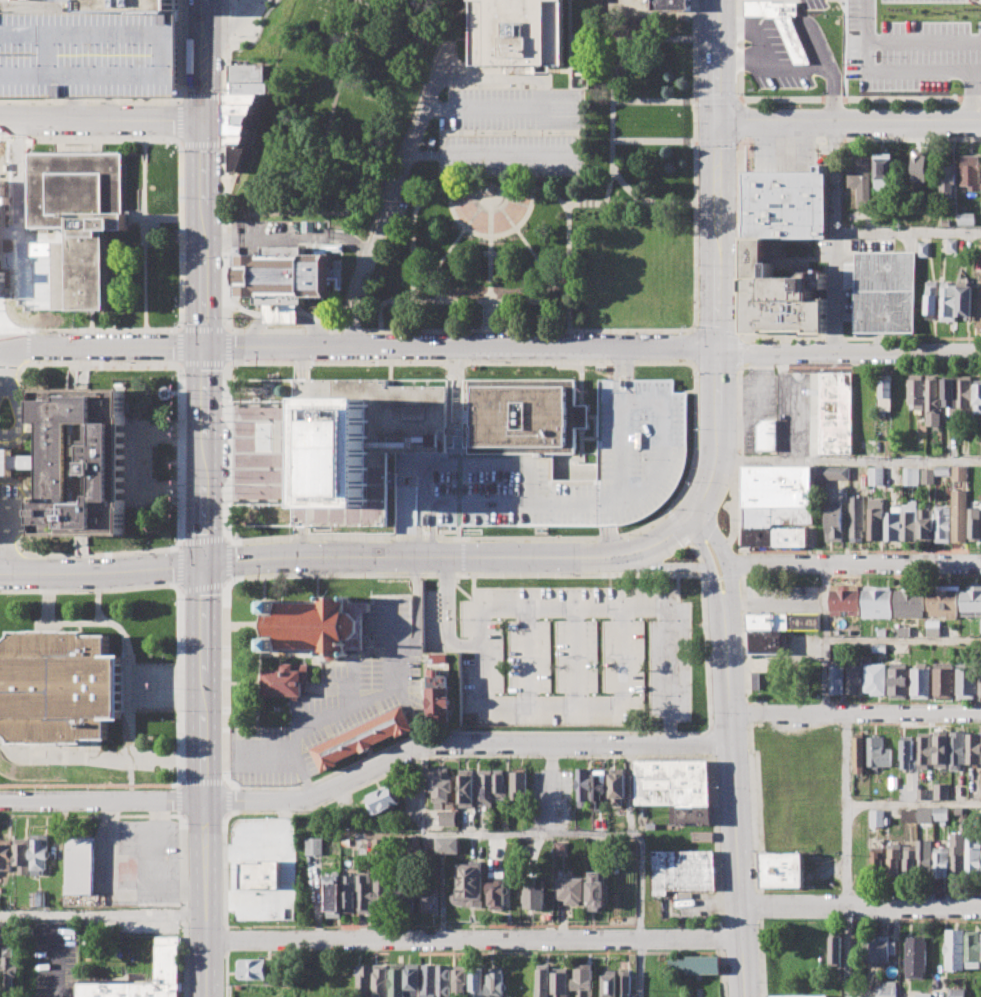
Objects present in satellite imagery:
building: (18, 1)
road: (229, 4)
road: (230, 4)
parking lot: (806, 4)
building: (115, 5)
building: (671, 6)
road: (204, 13)
road: (855, 16)
road: (231, 23)
road: (228, 25)
building: (780, 25)
building: (516, 33)
road: (609, 39)
road: (855, 43)
parking lot: (910, 43)
road: (570, 44)
road: (226, 45)
road: (739, 49)
road: (179, 51)
parking lot: (88, 54)
parking lot: (765, 57)
road: (717, 60)
road: (973, 68)
road: (694, 70)
road: (559, 71)
building: (247, 72)
building: (248, 87)
road: (966, 93)
building: (246, 97)
road: (611, 98)
road: (739, 98)
road: (860, 99)
road: (716, 100)
road: (654, 102)
park: (333, 109)
road: (481, 109)
building: (242, 117)
road: (101, 118)
road: (738, 119)
road: (849, 119)
traffic signals: (718, 122)
parking lot: (512, 132)
road: (858, 138)
road: (72, 139)
road: (154, 139)
building: (238, 139)
road: (179, 141)
road: (718, 141)
road: (653, 142)
road: (695, 142)
road: (221, 143)
building: (235, 156)
road: (551, 157)
road: (223, 160)
road: (404, 163)
building: (921, 167)
building: (884, 171)
building: (970, 171)
road: (533, 173)
road: (448, 174)
road: (834, 176)
building: (949, 179)
building: (860, 180)
road: (311, 182)
road: (204, 186)
road: (609, 187)
road: (491, 190)
building: (787, 204)
road: (629, 205)
park: (562, 206)
road: (375, 211)
building: (81, 215)
road: (162, 218)
building: (966, 219)
road: (848, 232)
building: (2, 234)
road: (718, 234)
road: (522, 237)
road: (457, 238)
building: (952, 245)
building: (923, 249)
road: (490, 261)
building: (283, 275)
road: (553, 284)
road: (432, 290)
building: (884, 291)
building: (778, 296)
building: (931, 299)
building: (965, 299)
building: (948, 300)
road: (474, 302)
road: (283, 318)
road: (178, 327)
road: (226, 328)
road: (693, 328)
road: (72, 330)
road: (169, 330)
road: (608, 330)
road: (739, 335)
road: (764, 337)
road: (226, 346)
road: (102, 347)
road: (179, 347)
traffic signals: (204, 347)
road: (460, 347)
traffic signals: (718, 347)
road: (619, 351)
road: (849, 351)
road: (89, 363)
road: (6, 364)
road: (693, 364)
road: (228, 365)
road: (755, 366)
road: (737, 368)
road: (458, 371)
road: (718, 385)
road: (581, 389)
road: (182, 391)
road: (225, 391)
building: (915, 391)
building: (885, 393)
building: (949, 393)
building: (965, 395)
building: (978, 396)
building: (934, 400)
road: (450, 401)
road: (626, 404)
road: (458, 407)
road: (20, 408)
building: (837, 412)
building: (521, 416)
building: (582, 417)
road: (596, 427)
building: (766, 433)
road: (695, 434)
building: (360, 444)
road: (581, 446)
road: (622, 454)
road: (849, 458)
building: (79, 461)
road: (138, 461)
parking lot: (474, 461)
road: (479, 463)
road: (714, 467)
building: (941, 470)
building: (832, 472)
building: (959, 473)
helipad: (338, 474)
building: (876, 476)
building: (911, 476)
building: (926, 476)
road: (458, 491)
road: (739, 492)
building: (777, 494)
road: (263, 501)
road: (428, 501)
building: (406, 503)
road: (604, 503)
road: (669, 511)
road: (227, 512)
building: (959, 516)
building: (856, 518)
building: (875, 518)
building: (833, 520)
building: (909, 520)
road: (405, 522)
building: (893, 523)
building: (941, 523)
road: (180, 524)
building: (975, 524)
building: (925, 525)
road: (419, 527)
road: (679, 528)
road: (432, 531)
road: (446, 531)
building: (775, 538)
road: (8, 539)
road: (228, 539)
road: (611, 540)
road: (696, 551)
road: (90, 555)
road: (462, 556)
road: (355, 559)
road: (853, 562)
traffic signals: (203, 563)
road: (646, 566)
road: (701, 567)
road: (728, 569)
road: (464, 574)
road: (711, 576)
road: (715, 577)
road: (127, 588)
parking lot: (784, 599)
building: (843, 599)
building: (971, 600)
road: (823, 601)
building: (877, 601)
building: (942, 601)
building: (909, 602)
road: (777, 603)
road: (99, 606)
road: (569, 608)
road: (49, 611)
parking lot: (439, 620)
building: (784, 621)
road: (98, 622)
building: (317, 624)
building: (980, 625)
building: (933, 628)
building: (902, 630)
building: (881, 631)
building: (764, 635)
road: (903, 639)
road: (416, 641)
building: (879, 648)
building: (765, 649)
road: (706, 650)
road: (526, 656)
road: (573, 656)
parking lot: (574, 657)
building: (439, 658)
road: (203, 671)
road: (826, 676)
building: (854, 676)
building: (837, 678)
building: (876, 679)
building: (943, 680)
building: (966, 680)
building: (287, 681)
building: (898, 681)
building: (920, 681)
building: (979, 681)
road: (226, 685)
road: (354, 686)
building: (58, 687)
flagpole: (157, 687)
building: (438, 696)
road: (864, 702)
parking lot: (336, 704)
road: (570, 704)
road: (185, 710)
road: (855, 712)
road: (750, 713)
road: (332, 718)
road: (462, 732)
building: (363, 736)
road: (712, 739)
road: (511, 743)
building: (941, 747)
building: (973, 748)
building: (957, 749)
building: (924, 750)
building: (878, 751)
building: (906, 751)
building: (859, 752)
road: (270, 754)
road: (463, 755)
road: (107, 757)
building: (500, 780)
building: (520, 781)
building: (672, 782)
road: (65, 785)
road: (156, 785)
building: (442, 785)
building: (617, 786)
building: (467, 787)
building: (485, 787)
road: (551, 787)
building: (583, 788)
building: (599, 788)
road: (630, 788)
building: (941, 790)
building: (954, 791)
building: (922, 796)
road: (151, 798)
building: (385, 799)
parking lot: (552, 799)
road: (226, 800)
road: (913, 804)
road: (759, 806)
building: (940, 813)
building: (908, 814)
building: (924, 814)
building: (691, 815)
road: (735, 817)
building: (877, 817)
building: (449, 818)
road: (536, 831)
building: (702, 836)
road: (717, 840)
building: (414, 841)
building: (313, 845)
building: (448, 845)
building: (561, 847)
building: (956, 852)
building: (40, 853)
building: (6, 854)
road: (846, 854)
building: (23, 855)
building: (973, 855)
building: (923, 856)
building: (909, 858)
building: (876, 859)
building: (893, 859)
parking lot: (137, 860)
building: (940, 860)
building: (80, 866)
building: (681, 868)
building: (783, 868)
road: (224, 870)
building: (259, 875)
building: (471, 879)
building: (498, 889)
building: (348, 890)
building: (569, 890)
building: (363, 891)
building: (596, 891)
building: (405, 892)
building: (331, 893)
building: (380, 893)
building: (428, 893)
building: (534, 894)
building: (37, 899)
parking lot: (262, 899)
road: (860, 904)
road: (759, 905)
road: (102, 914)
building: (1, 928)
road: (722, 937)
road: (474, 938)
road: (225, 941)
building: (835, 949)
building: (881, 949)
building: (955, 949)
building: (973, 949)
road: (681, 951)
road: (54, 955)
building: (916, 957)
road: (762, 958)
building: (167, 959)
building: (695, 964)
building: (8, 969)
building: (252, 969)
road: (724, 972)
road: (226, 974)
building: (412, 976)
building: (363, 979)
building: (380, 980)
building: (397, 980)
building: (428, 980)
building: (461, 980)
building: (478, 980)
building: (584, 980)
building: (444, 981)
building: (543, 982)
building: (561, 982)
building: (497, 983)
building: (609, 983)
building: (624, 983)
building: (887, 989)
building: (957, 992)
building: (923, 994)
building: (797, 995)

